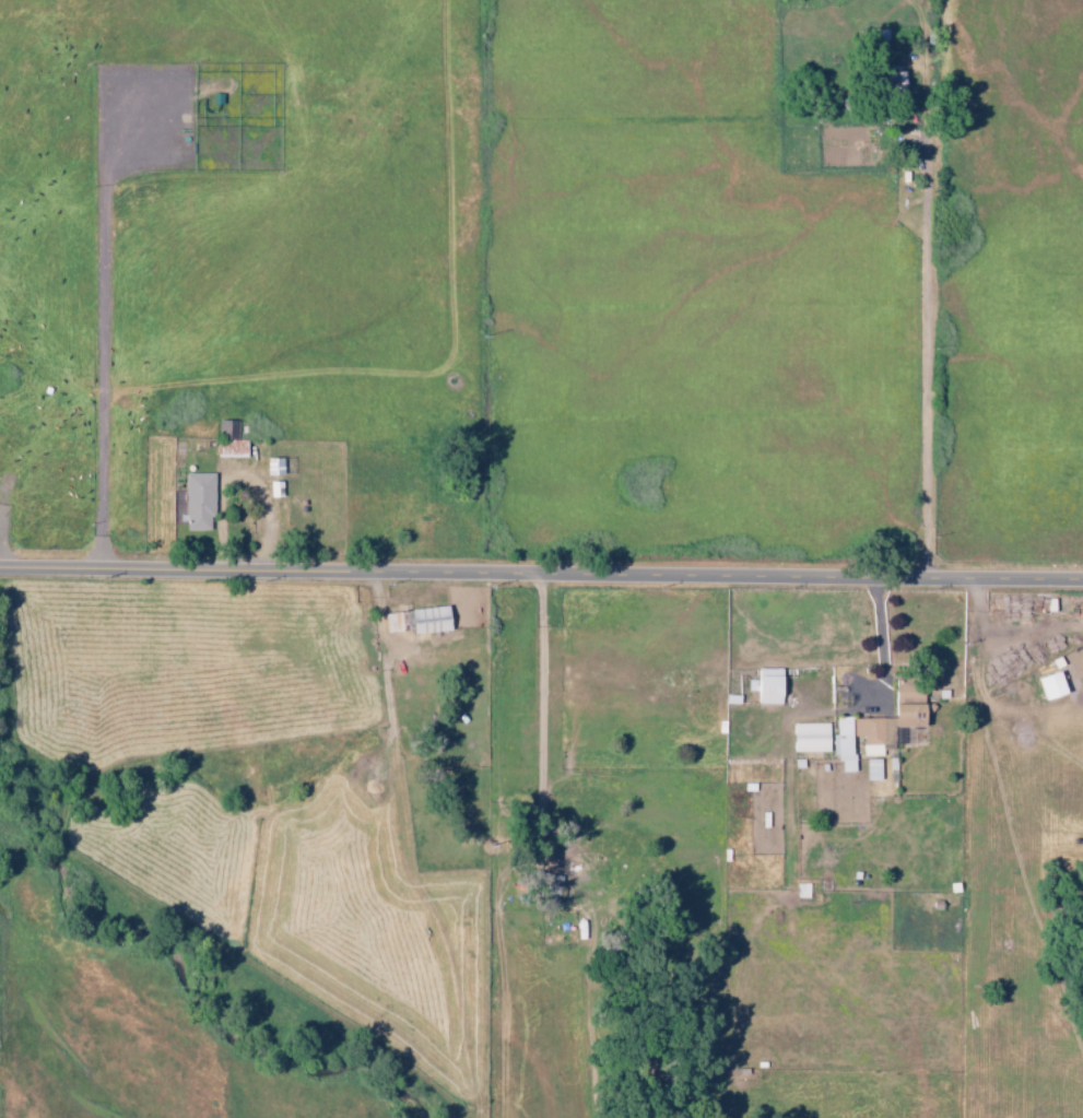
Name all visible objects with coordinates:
building: (893, 82)
building: (231, 443)
building: (201, 501)
road: (541, 575)
building: (414, 621)
building: (764, 686)
building: (890, 720)
building: (809, 738)
building: (843, 743)
building: (871, 769)
building: (552, 885)
building: (800, 891)

